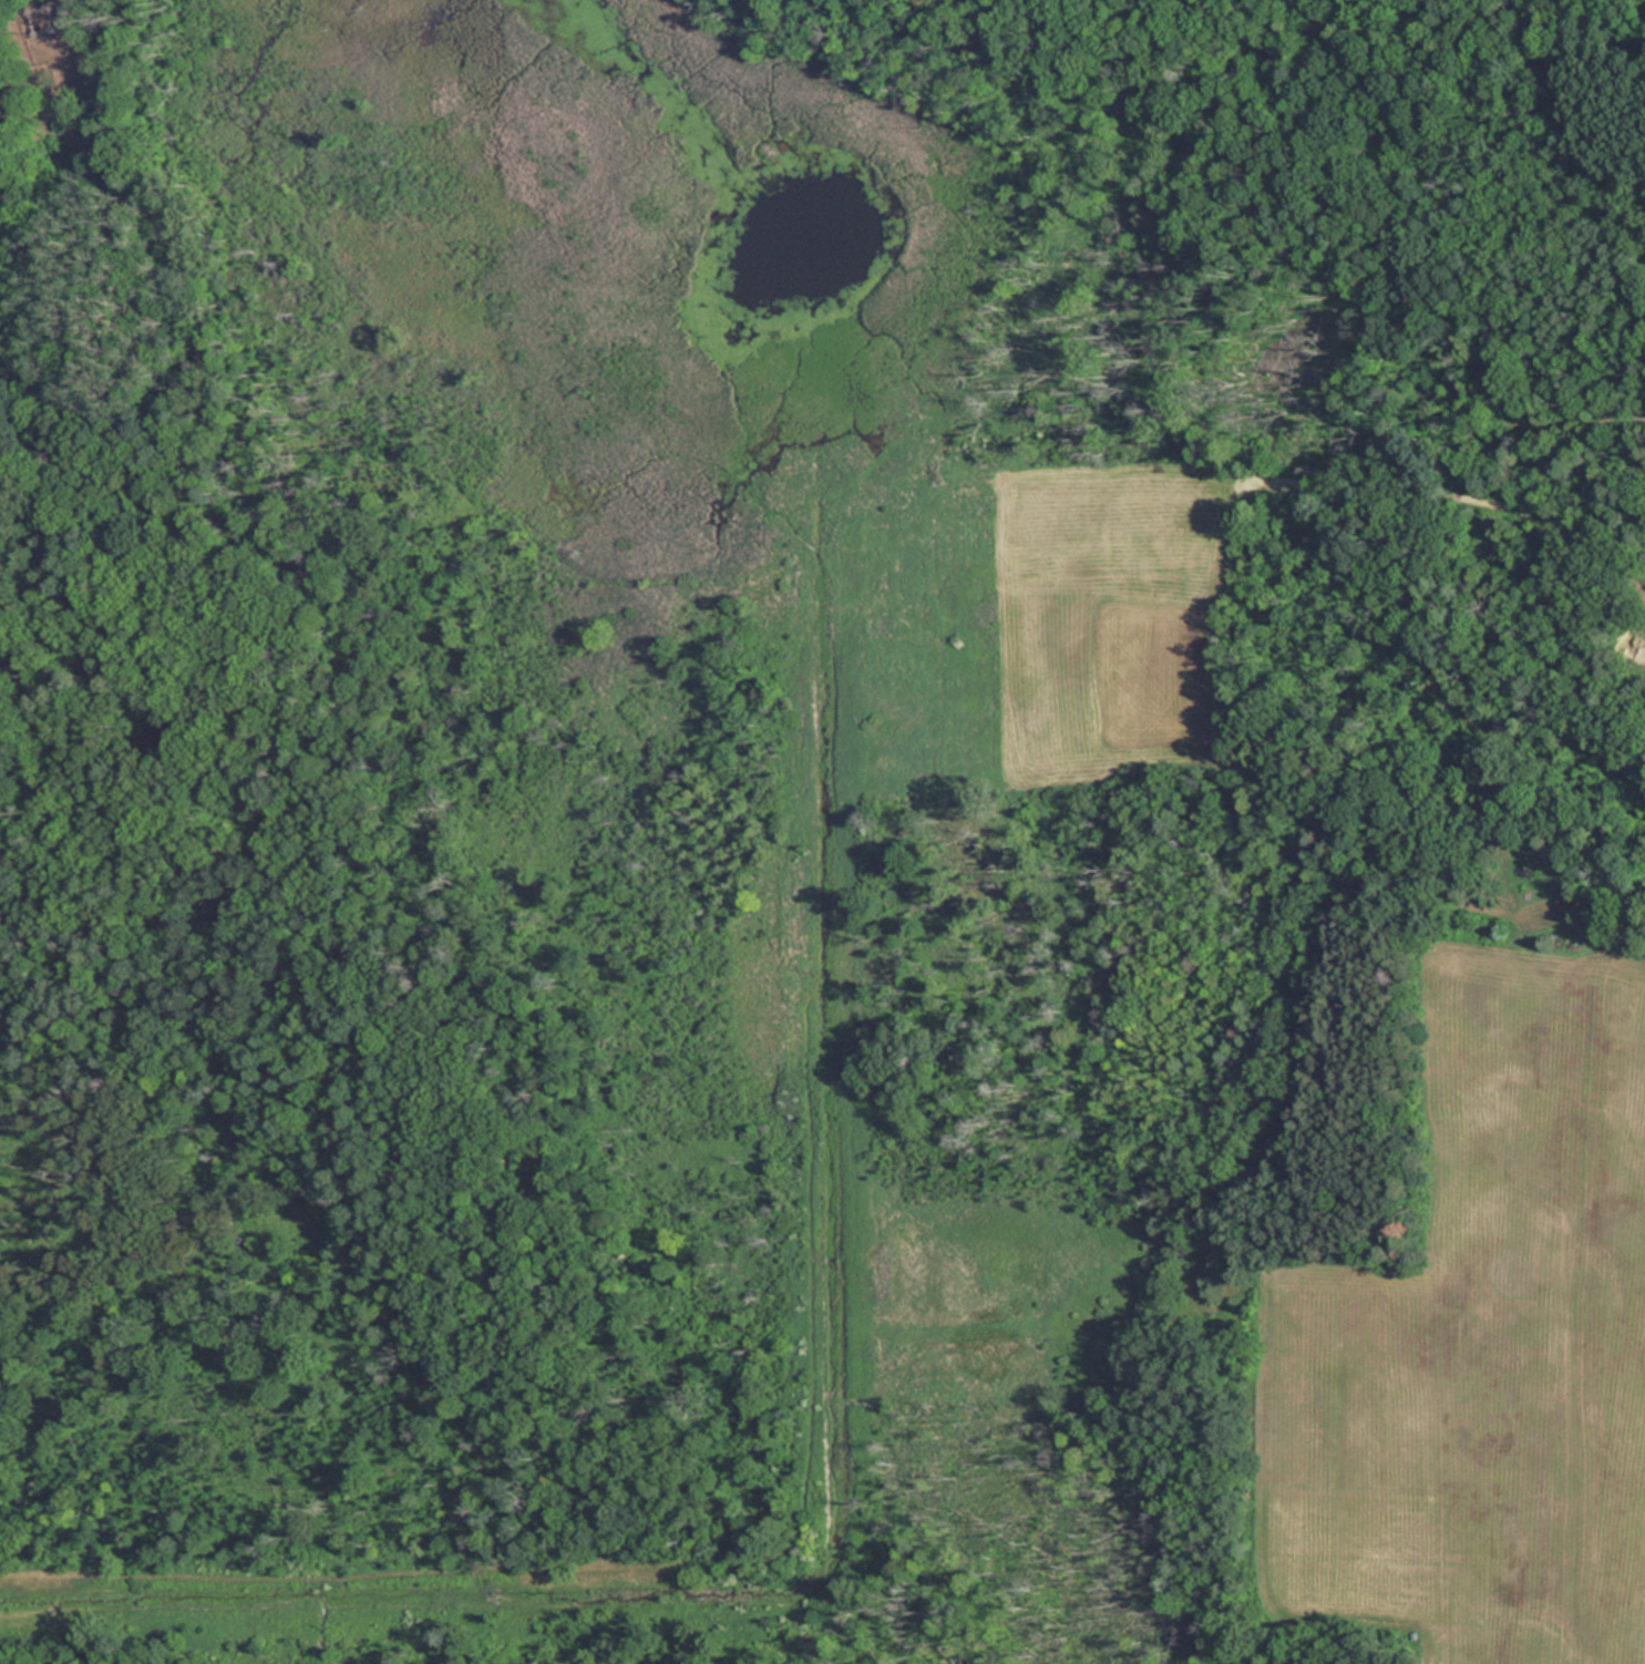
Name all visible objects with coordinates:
road: (1406, 226)
road: (1548, 436)

